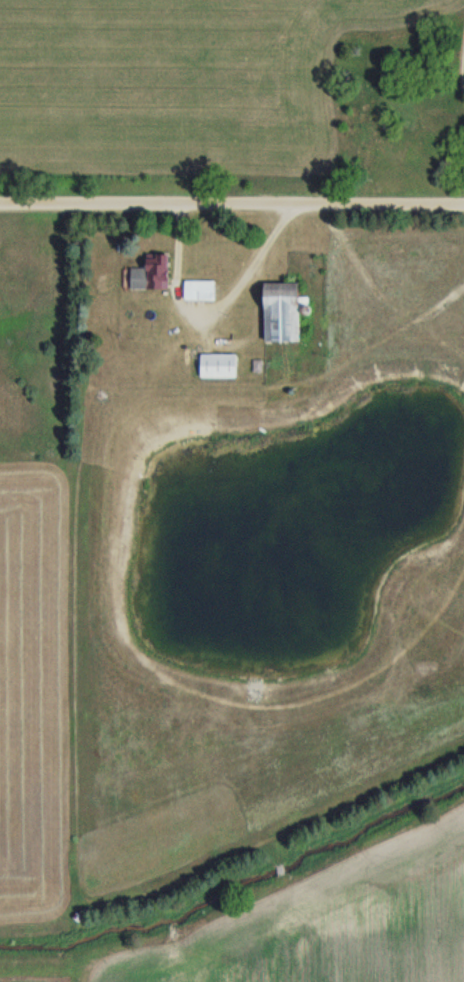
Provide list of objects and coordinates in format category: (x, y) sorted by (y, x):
road: (231, 204)
building: (155, 275)
building: (202, 291)
building: (287, 311)
building: (221, 366)

